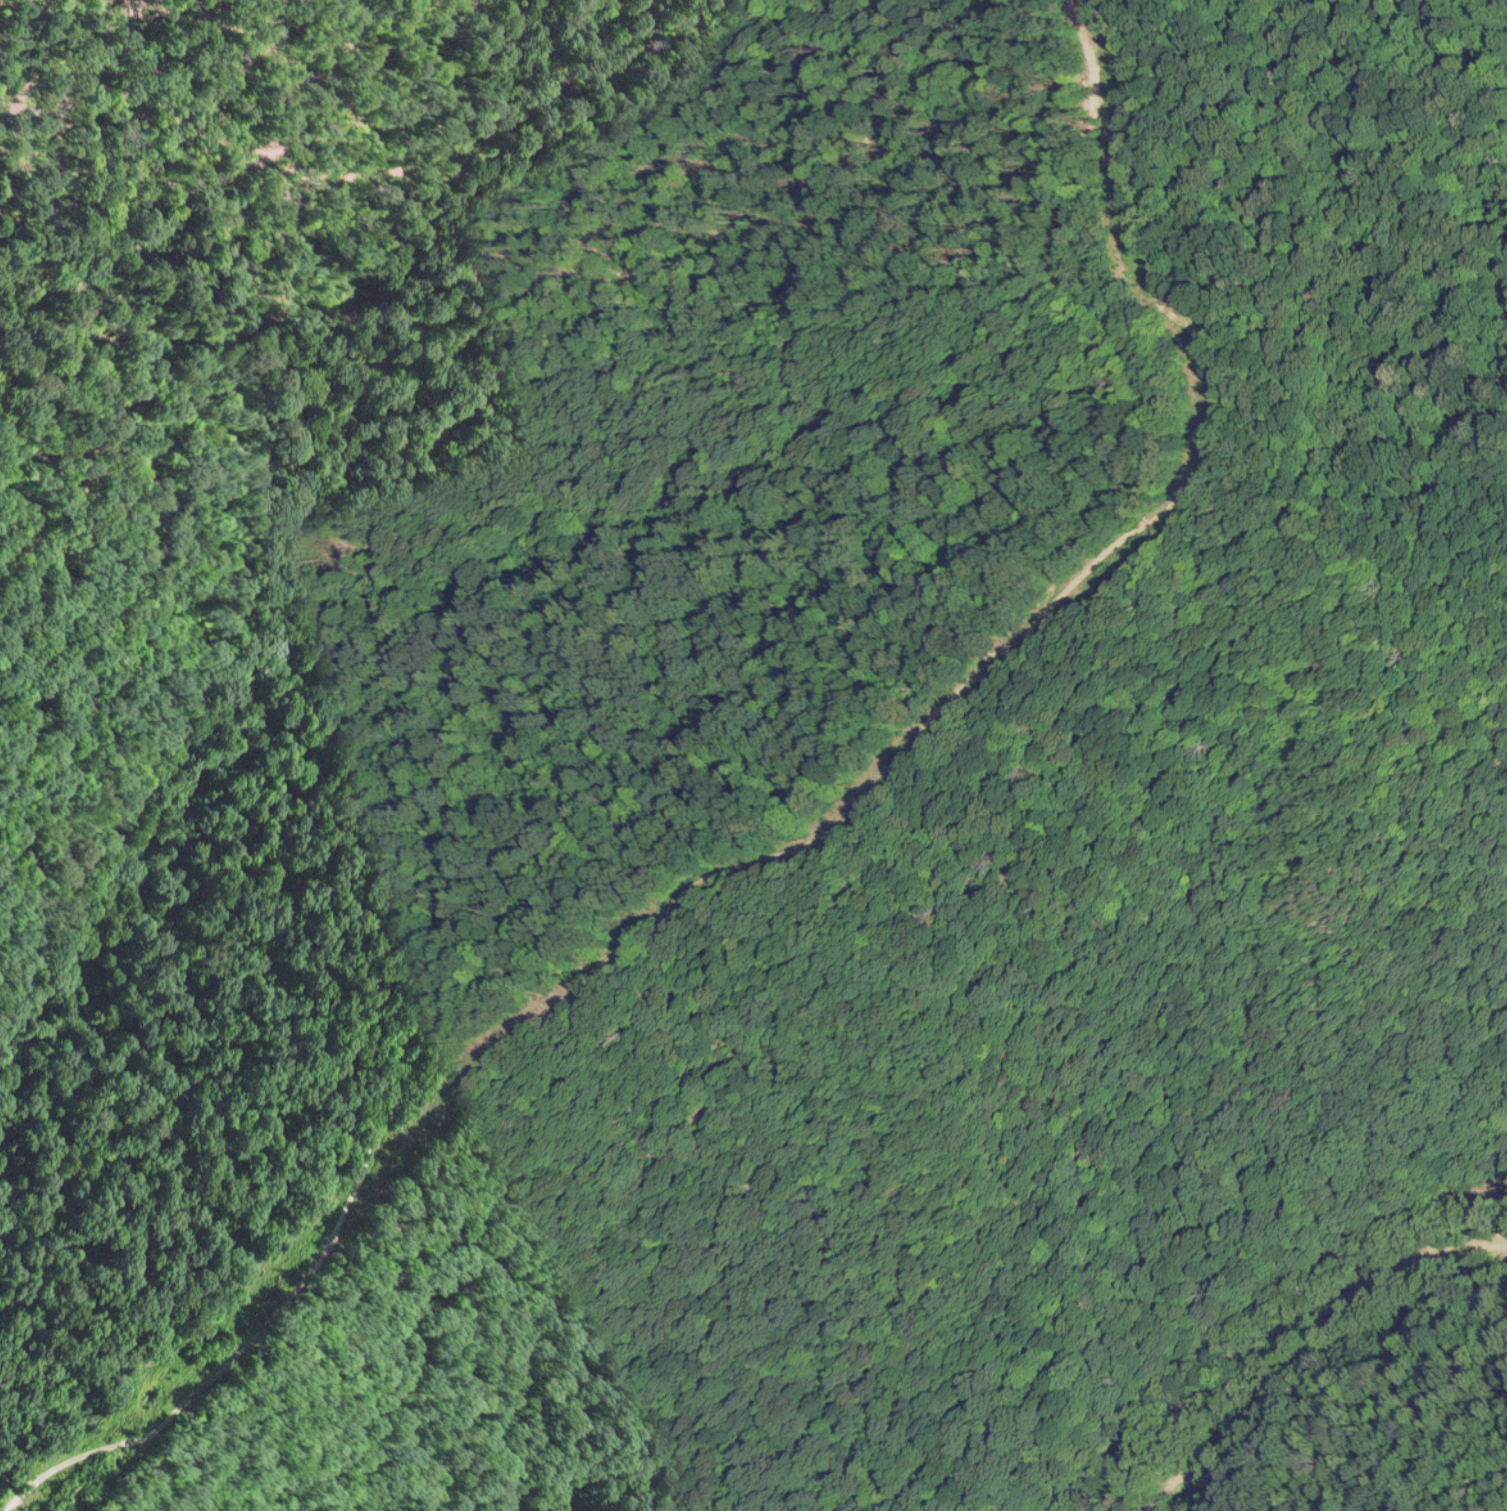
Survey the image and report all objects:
road: (1318, 1358)

